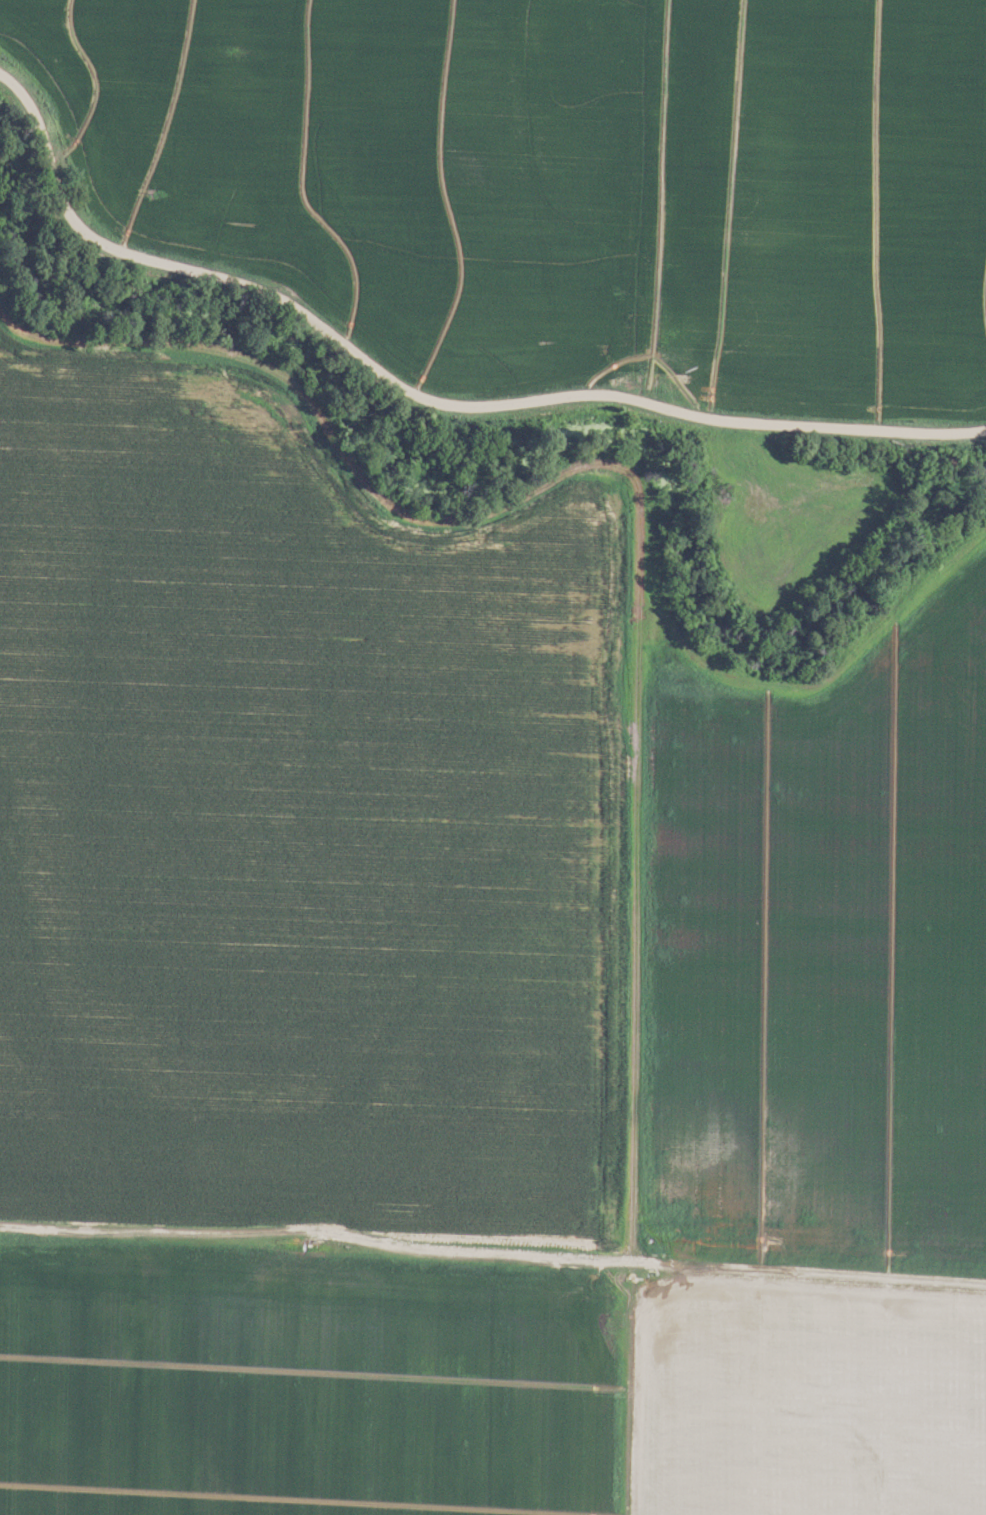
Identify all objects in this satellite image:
road: (421, 406)

